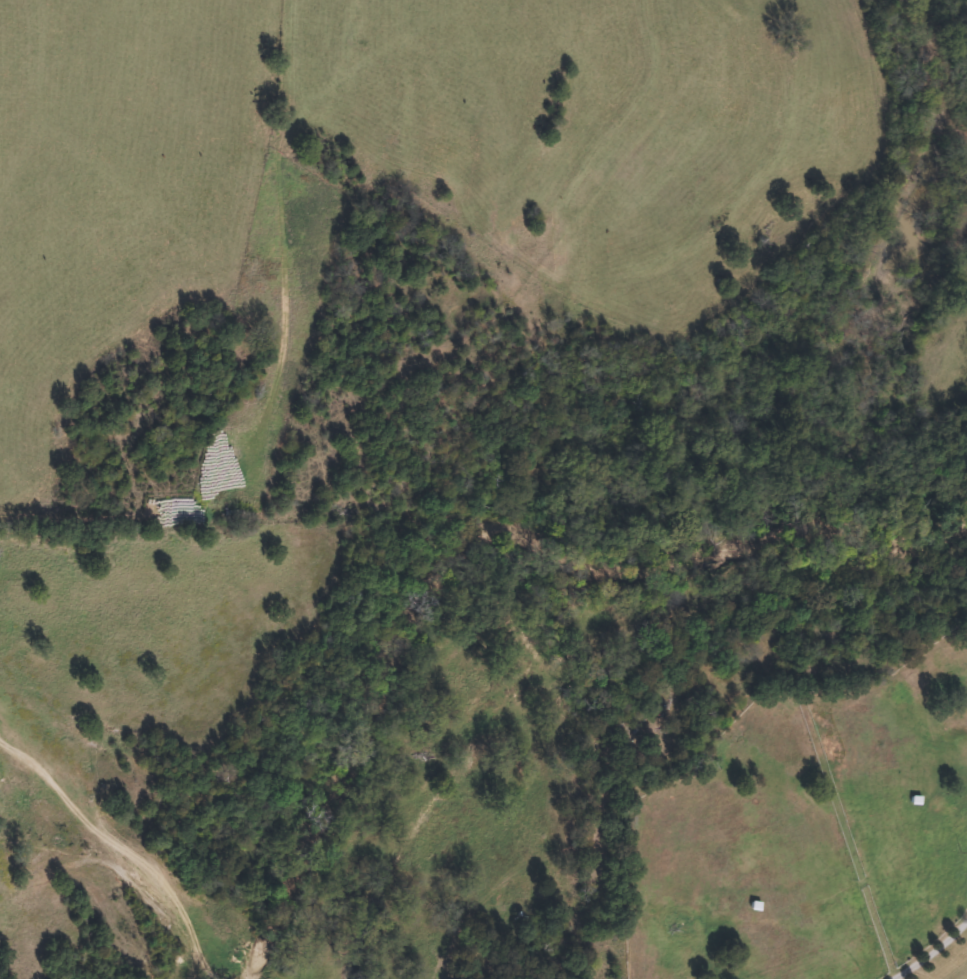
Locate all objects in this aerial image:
road: (924, 934)

